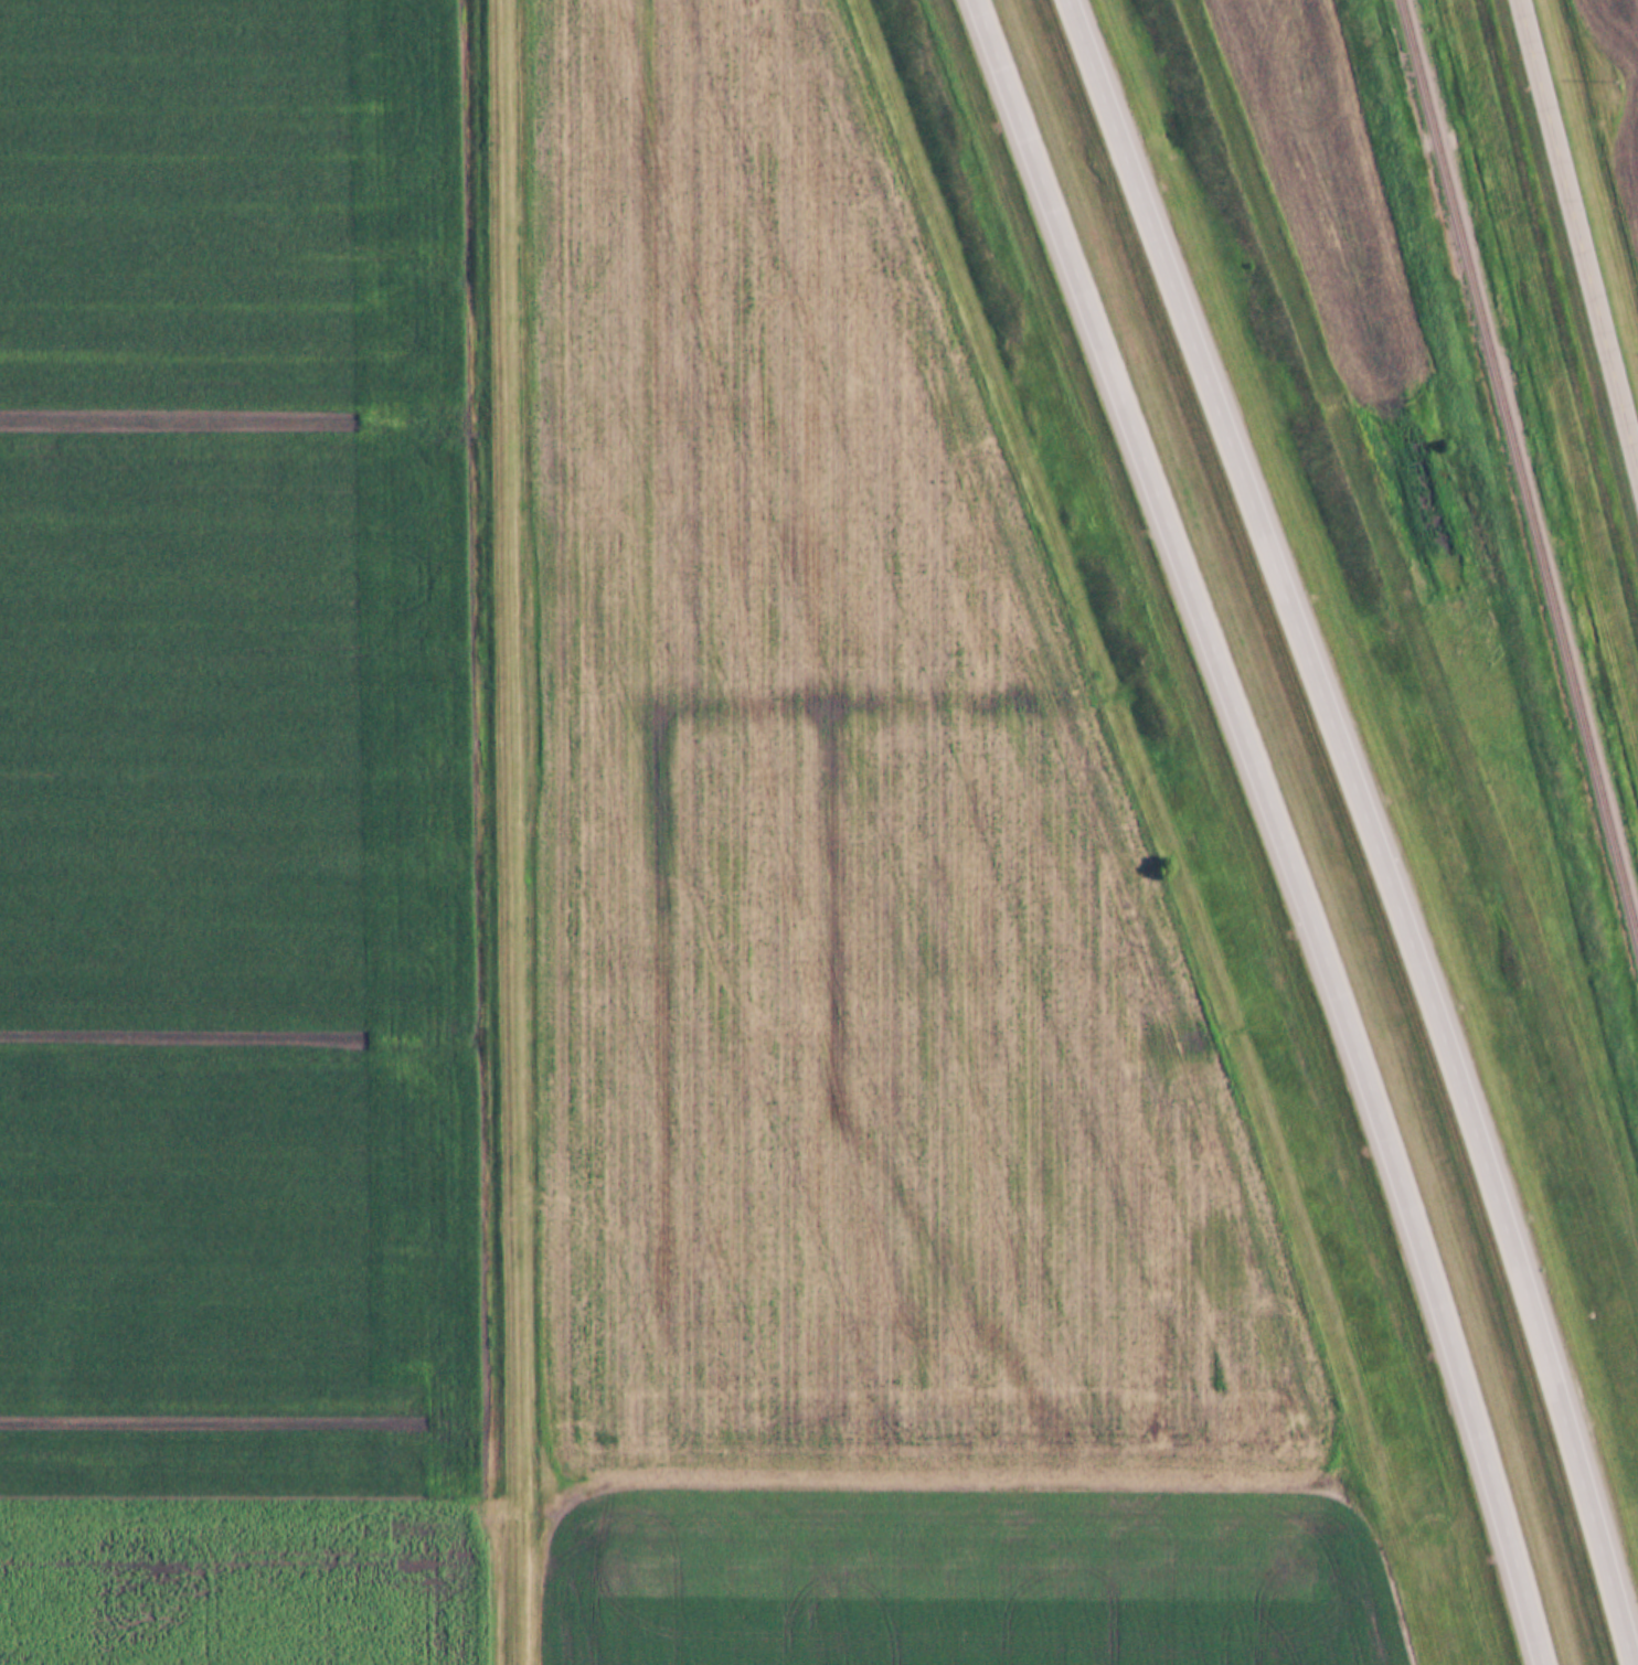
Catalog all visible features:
crop: (1630, 141)
road: (1580, 236)
railway: (1519, 472)
crop: (231, 748)
road: (1371, 824)
road: (1276, 825)
road: (518, 832)
crop: (842, 856)
crop: (237, 1576)
crop: (964, 1580)

